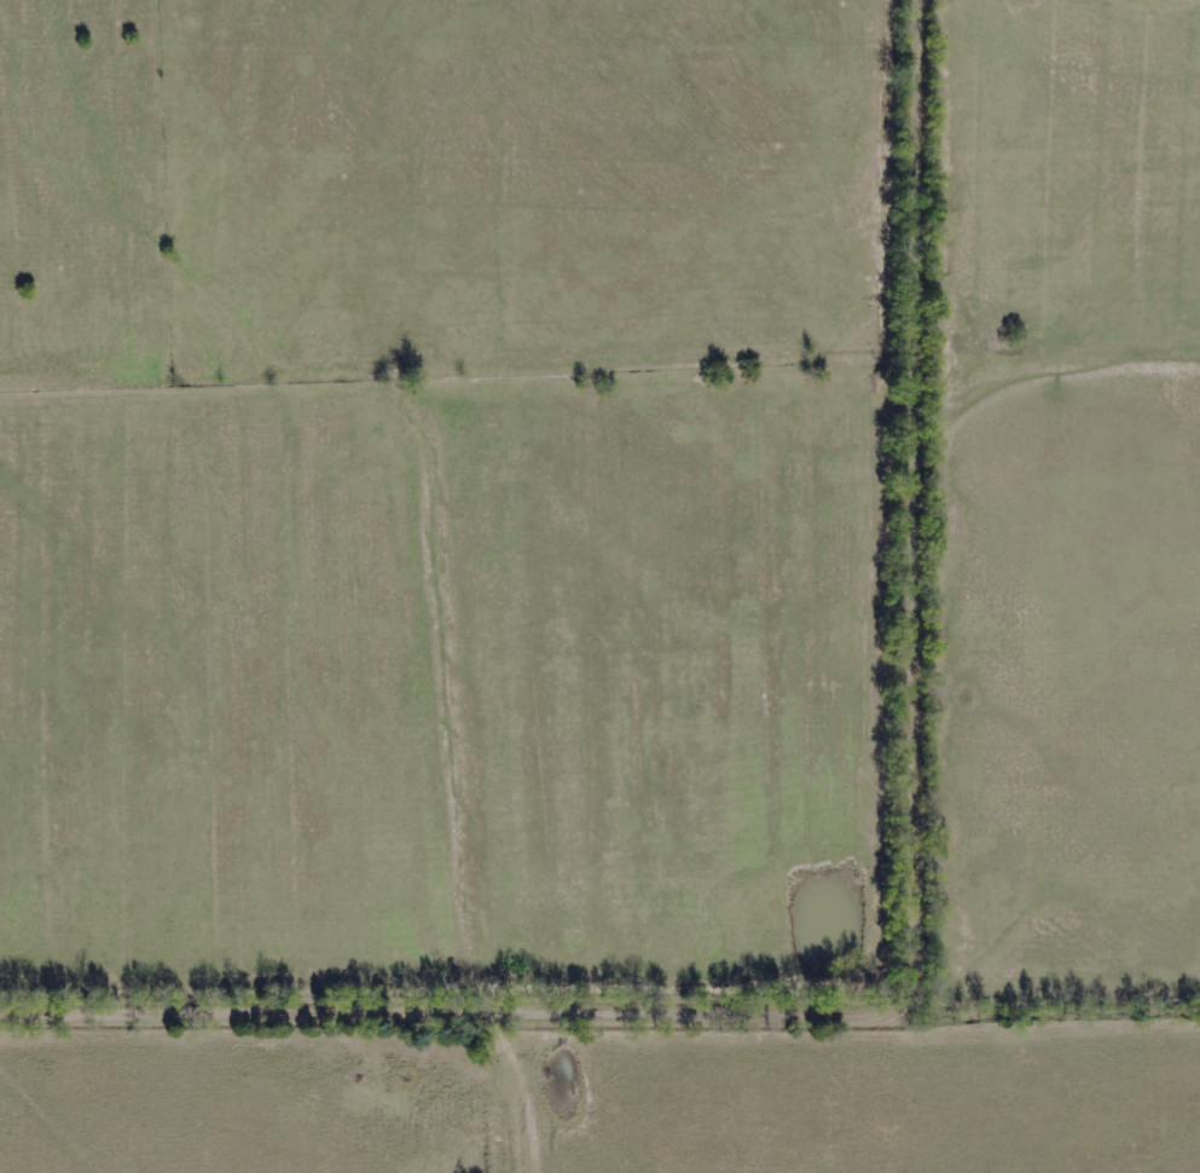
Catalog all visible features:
road: (918, 960)

